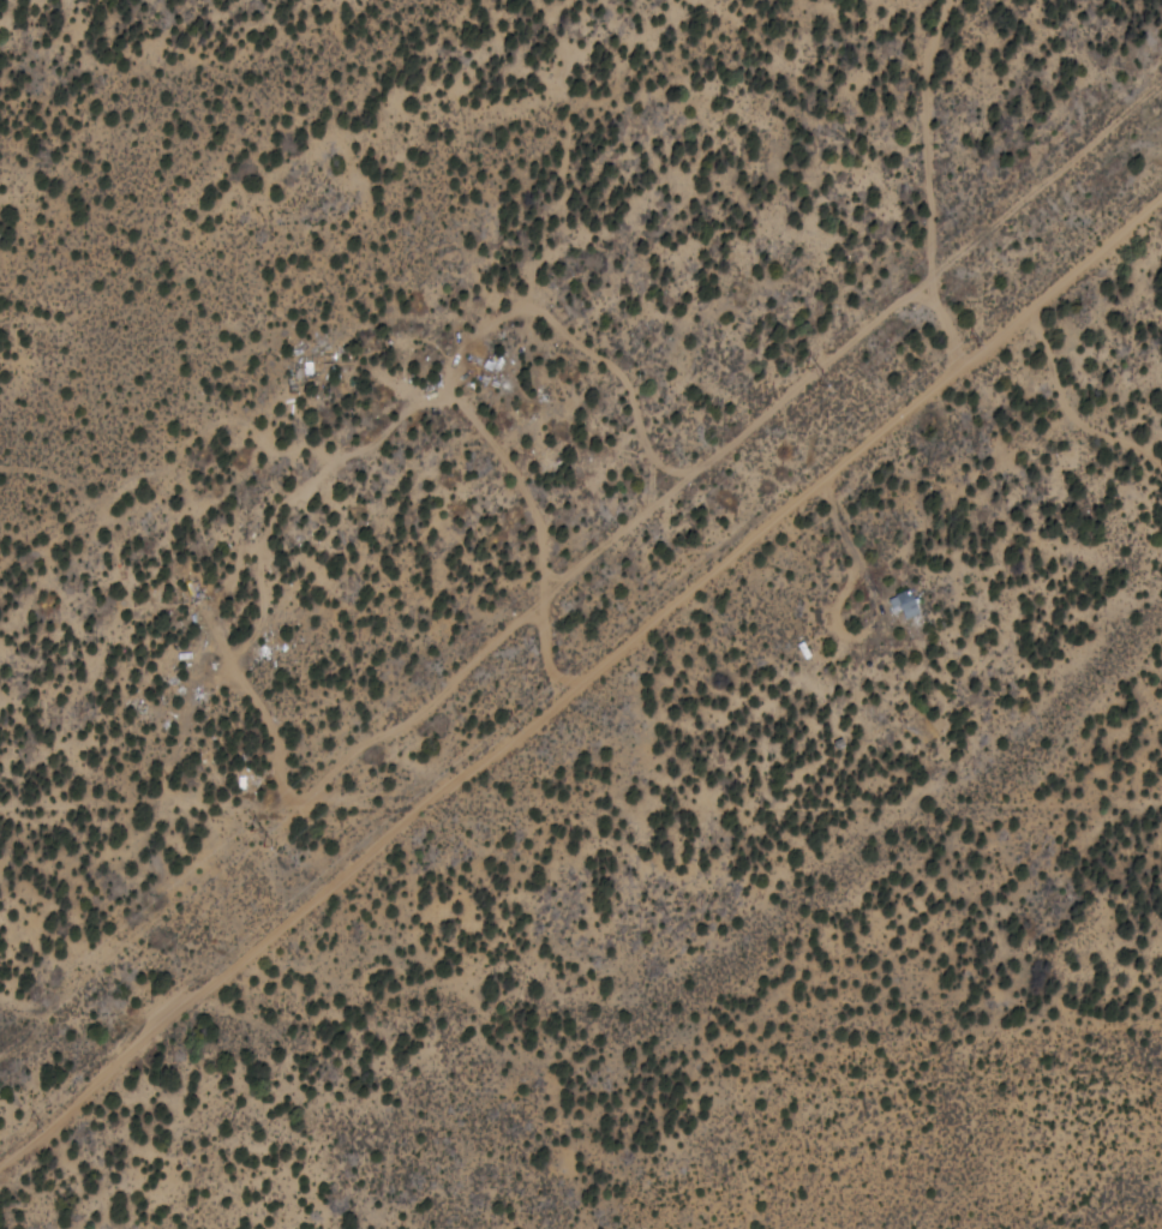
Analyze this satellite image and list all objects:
power tower: (969, 340)
power tower: (807, 377)
road: (581, 600)
building: (903, 602)
power tower: (248, 838)
power tower: (35, 1122)

